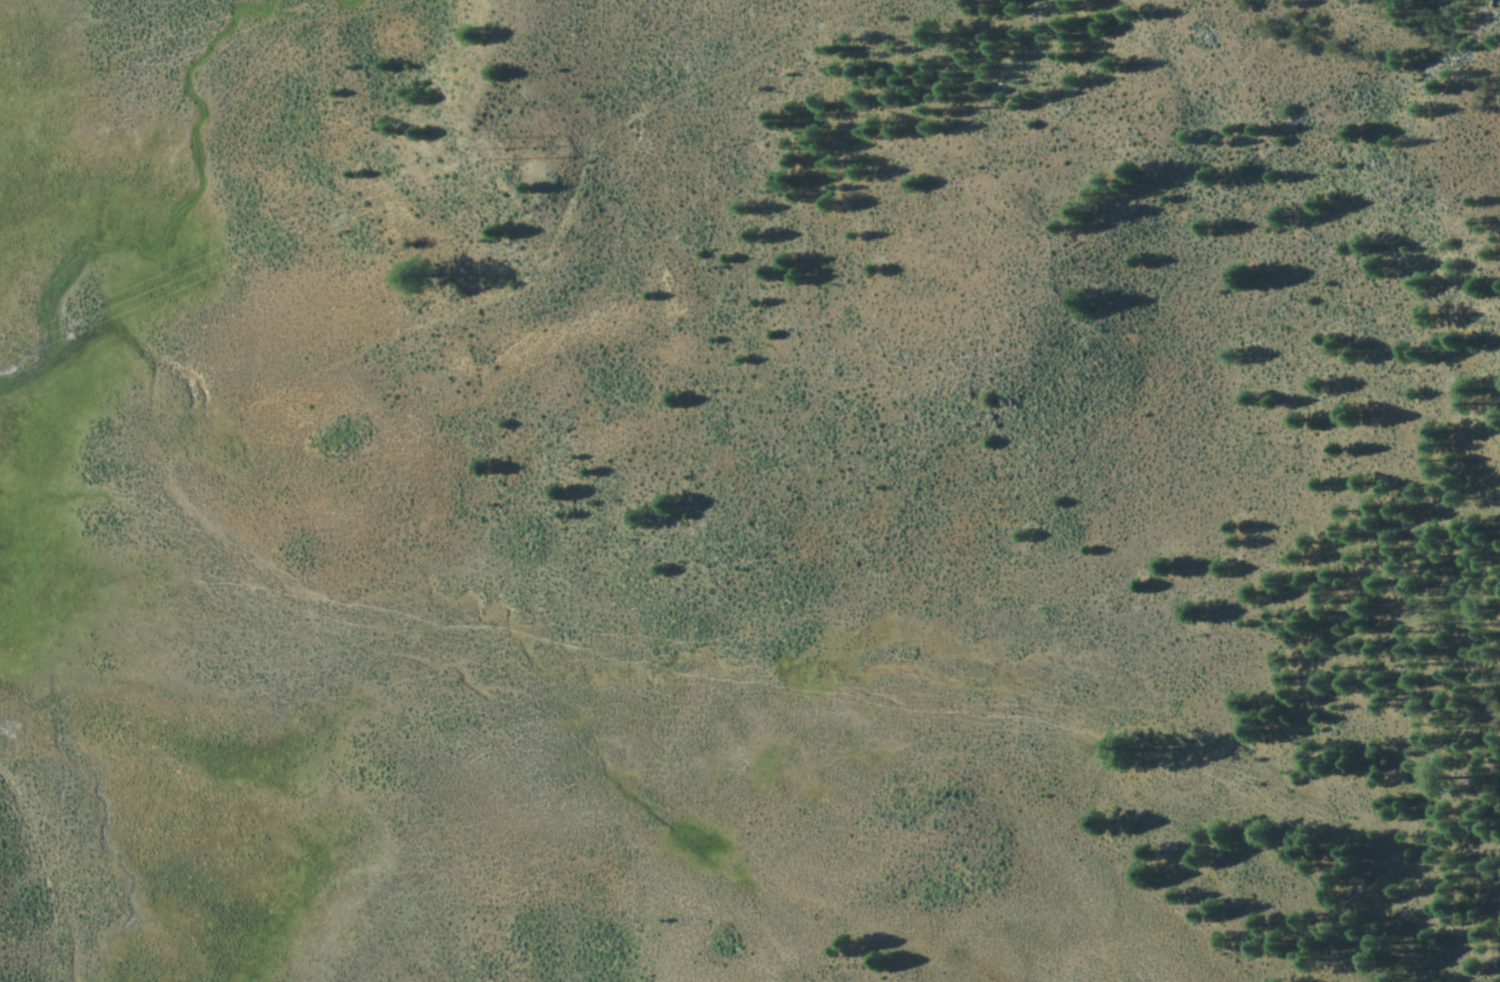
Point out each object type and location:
power tower: (504, 150)

